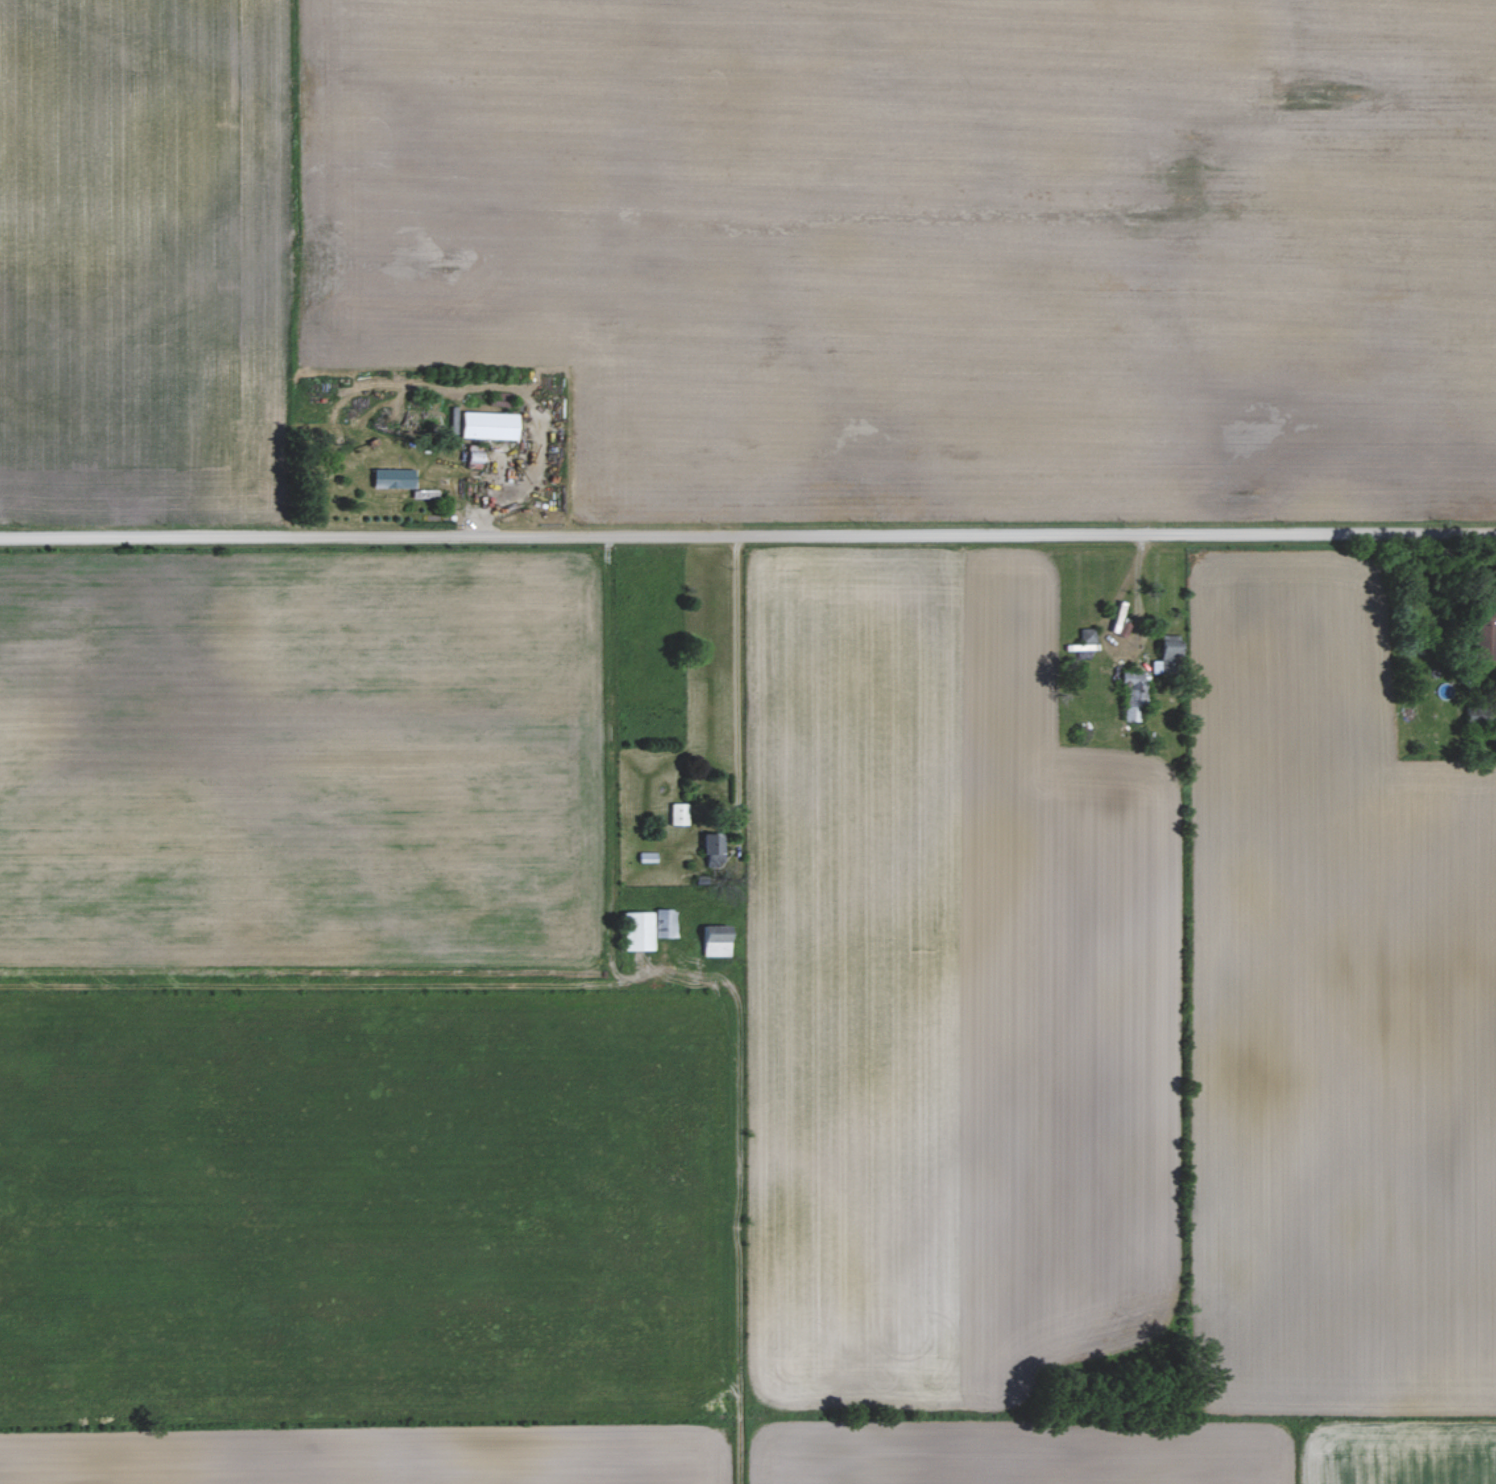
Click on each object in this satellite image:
building: (493, 425)
building: (400, 477)
road: (747, 535)
road: (1135, 594)
building: (1084, 634)
building: (1484, 636)
building: (1162, 645)
road: (734, 686)
building: (677, 813)
building: (708, 843)
building: (664, 922)
building: (633, 930)
building: (712, 940)

